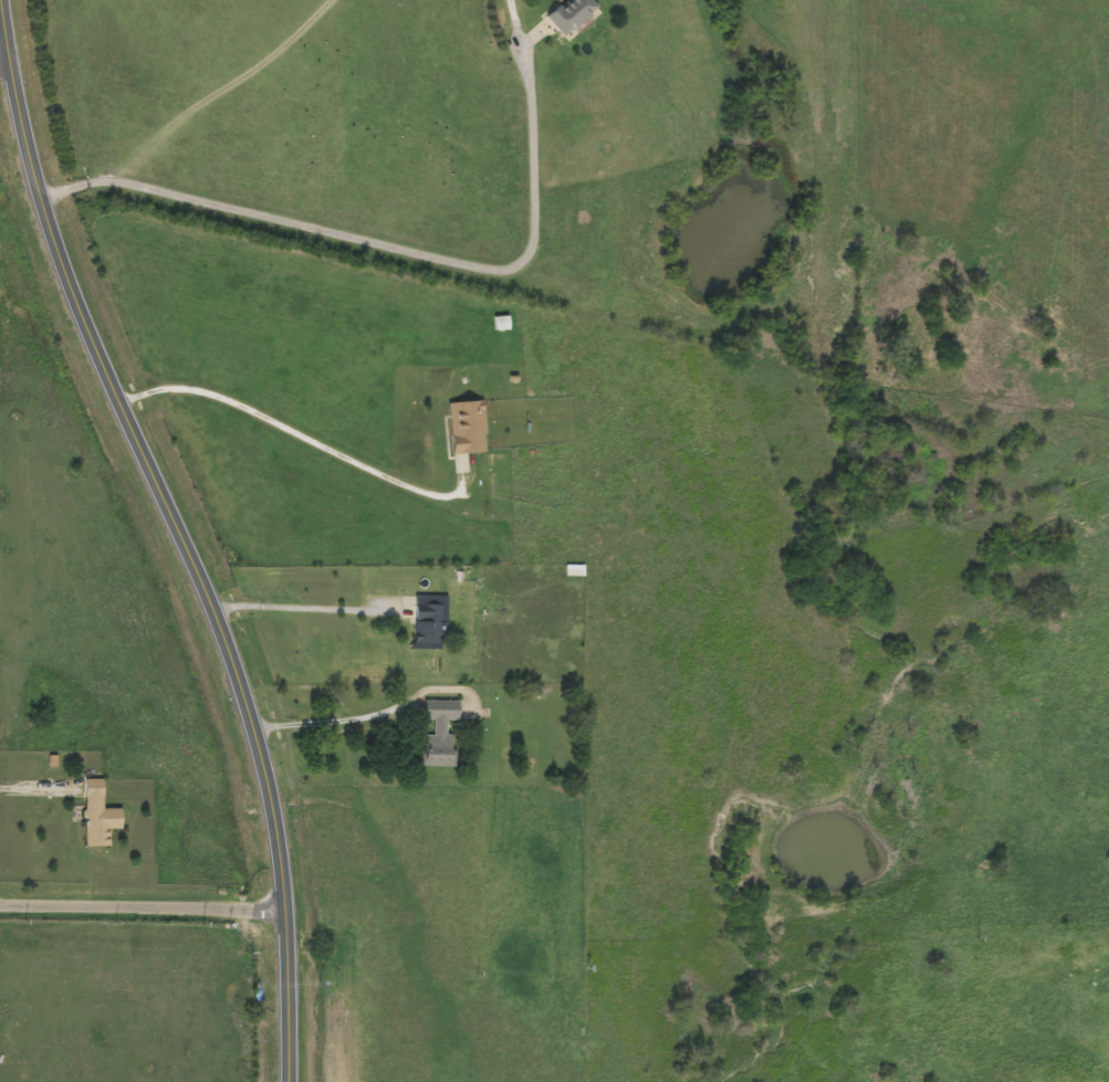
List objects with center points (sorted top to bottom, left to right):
building: (572, 14)
road: (1, 55)
road: (387, 245)
building: (470, 428)
road: (293, 432)
road: (180, 545)
road: (303, 608)
building: (435, 622)
road: (339, 719)
building: (442, 734)
road: (38, 789)
building: (101, 816)
building: (546, 843)
road: (140, 908)

